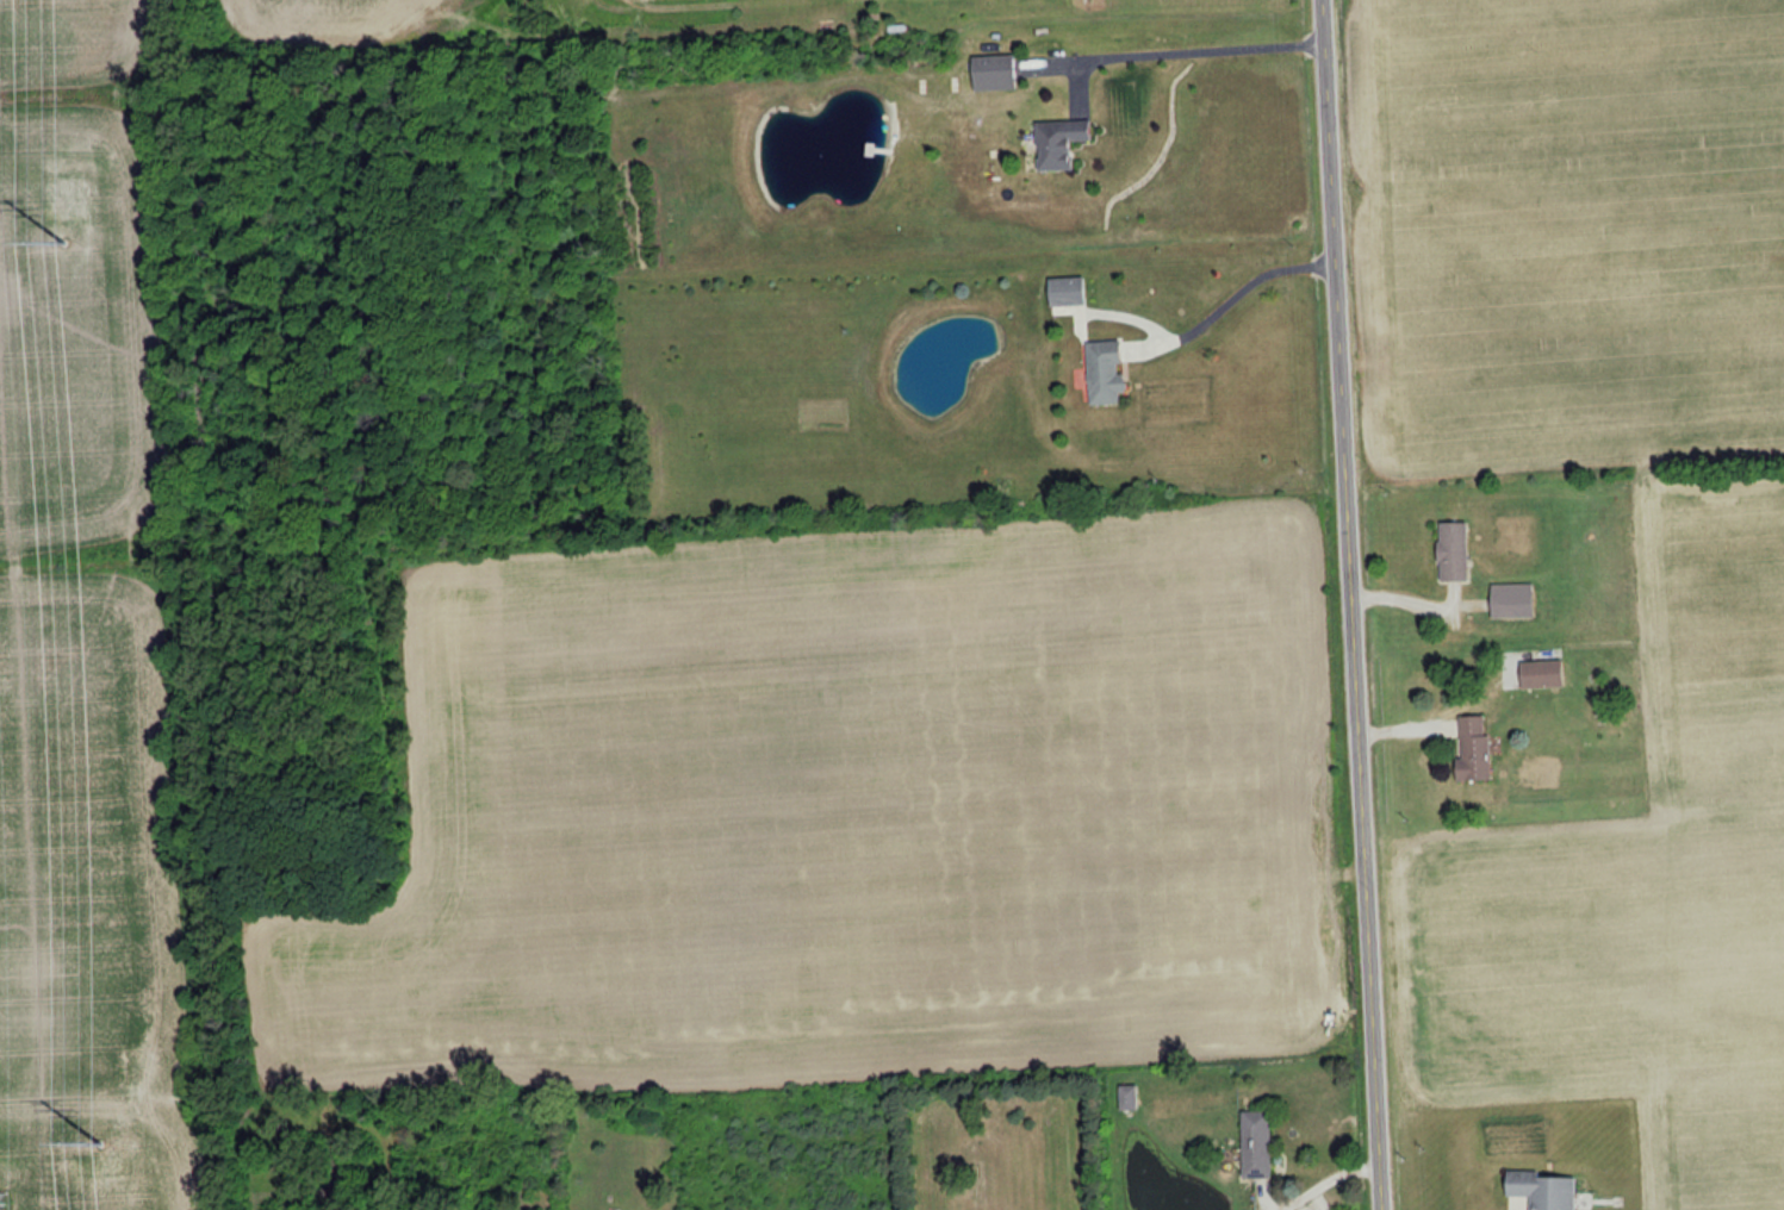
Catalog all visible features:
road: (1174, 49)
building: (1056, 141)
power tower: (62, 247)
building: (1063, 291)
road: (1229, 297)
building: (1101, 372)
building: (1450, 550)
road: (1348, 605)
building: (1540, 673)
building: (1471, 747)
building: (1126, 1097)
building: (1254, 1144)
power tower: (104, 1158)
road: (1309, 1189)
building: (1540, 1190)

